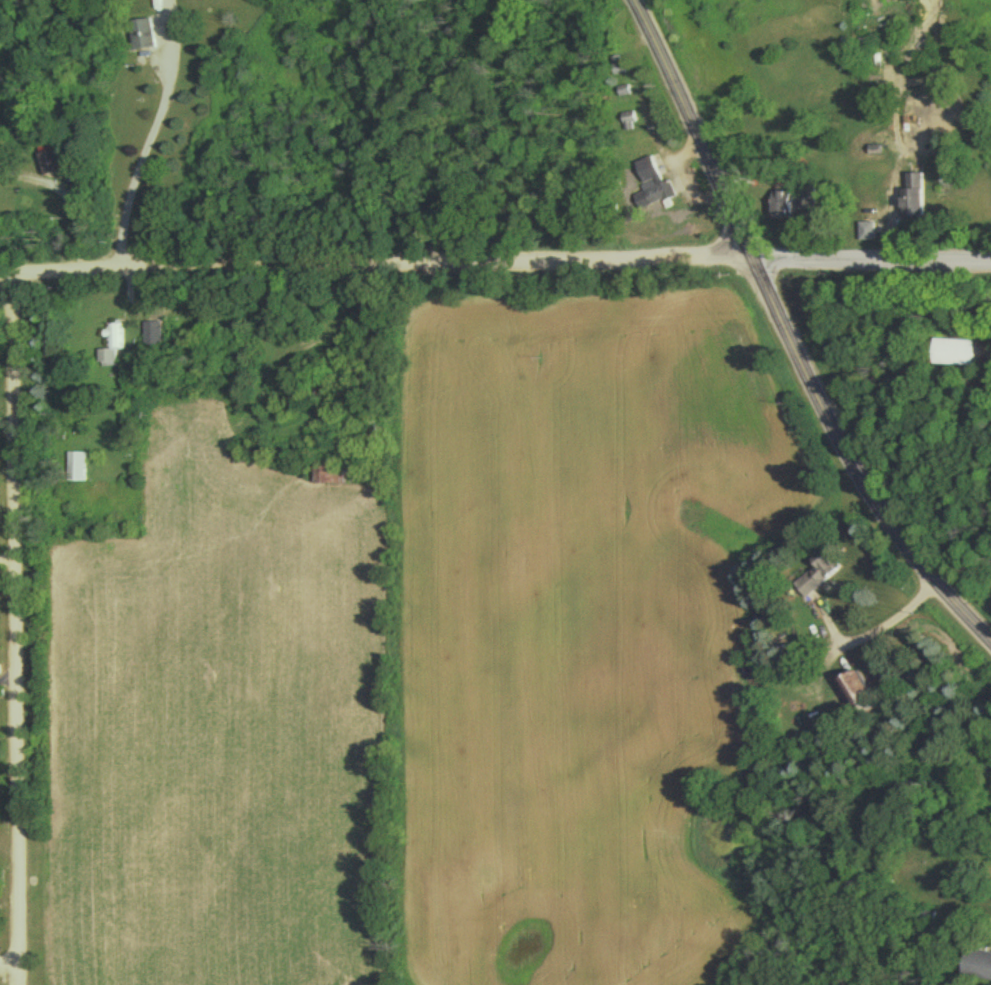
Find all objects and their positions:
building: (141, 38)
building: (616, 69)
building: (626, 124)
road: (148, 137)
building: (47, 167)
building: (650, 189)
road: (66, 198)
building: (911, 202)
building: (781, 207)
building: (865, 236)
road: (868, 261)
road: (372, 268)
road: (788, 342)
building: (110, 349)
building: (952, 355)
building: (74, 471)
building: (329, 479)
road: (7, 560)
building: (813, 579)
road: (873, 627)
road: (15, 629)
building: (853, 697)
building: (978, 968)

